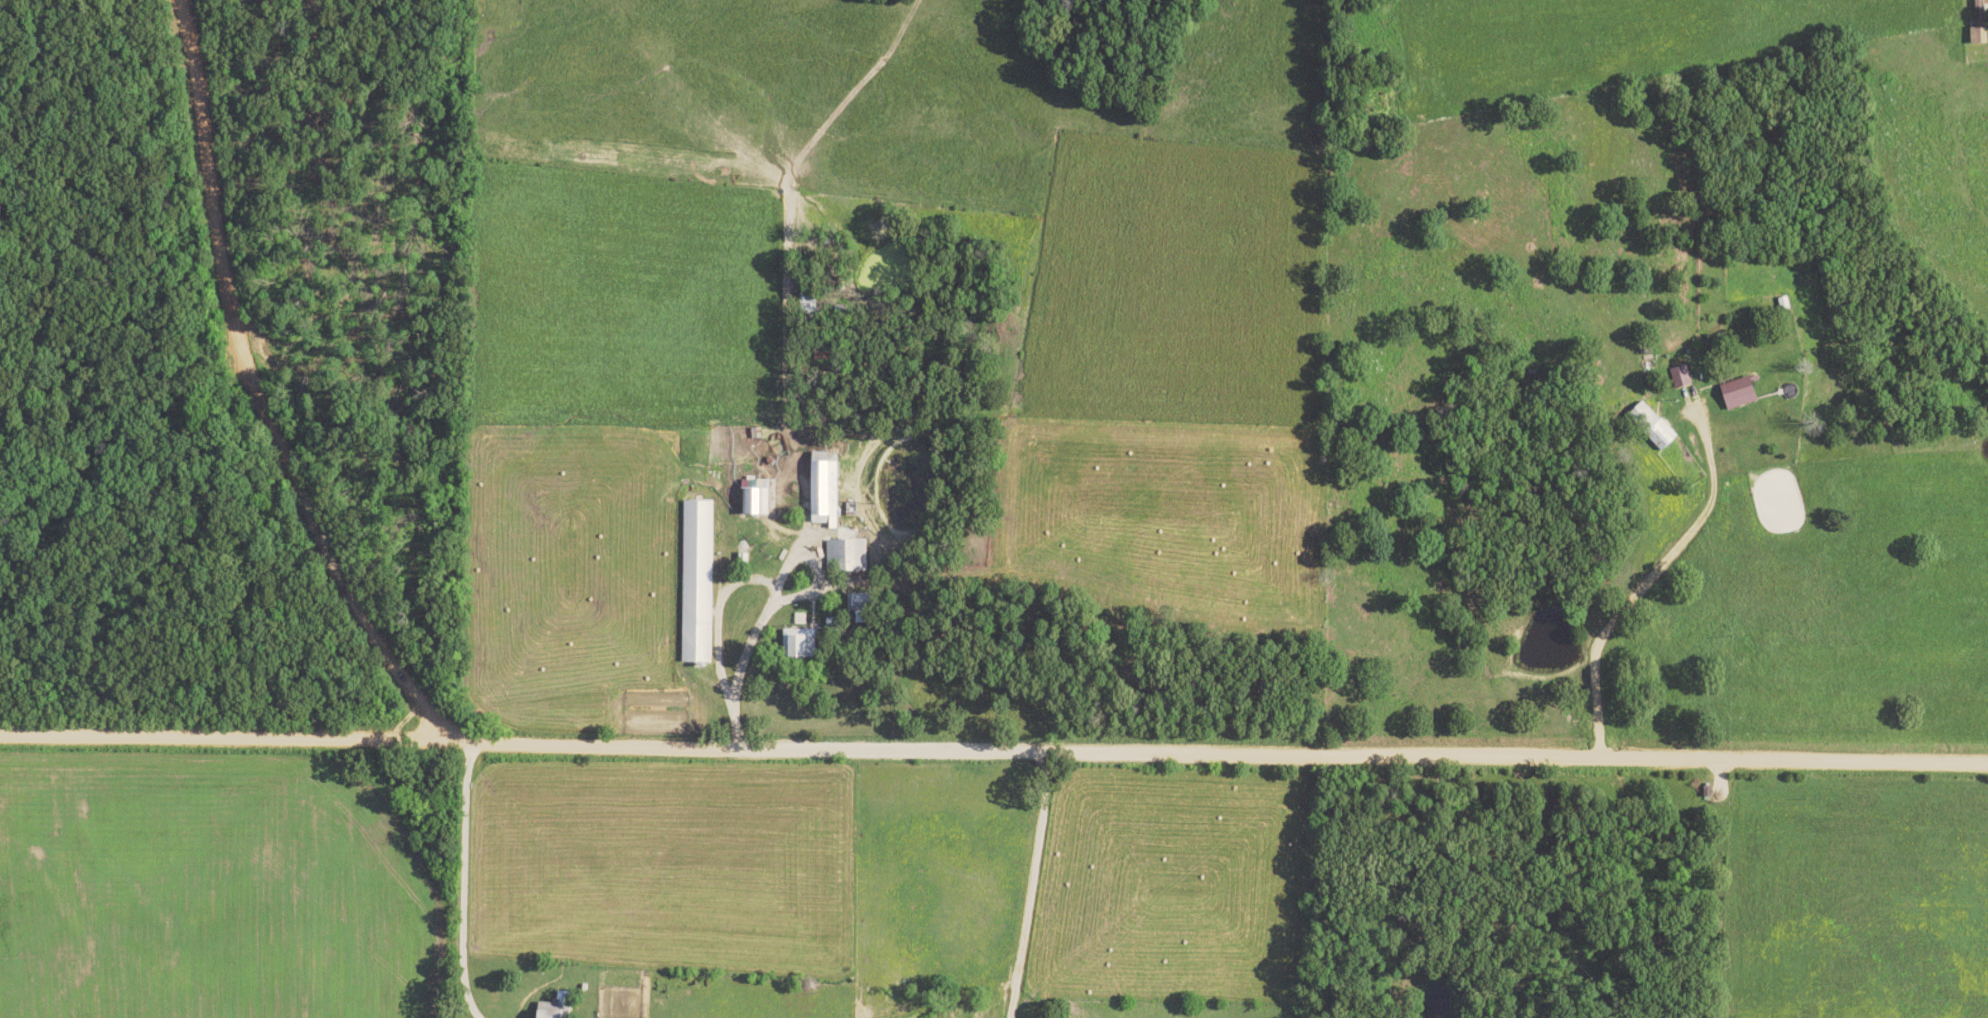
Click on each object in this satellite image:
building: (1974, 34)
building: (1678, 376)
building: (1734, 393)
road: (256, 397)
building: (1649, 425)
building: (821, 488)
building: (752, 497)
building: (846, 555)
road: (816, 557)
road: (1646, 574)
building: (695, 581)
road: (766, 587)
building: (791, 644)
road: (993, 750)
road: (456, 881)
road: (1023, 888)
road: (1001, 1005)
building: (544, 1011)

